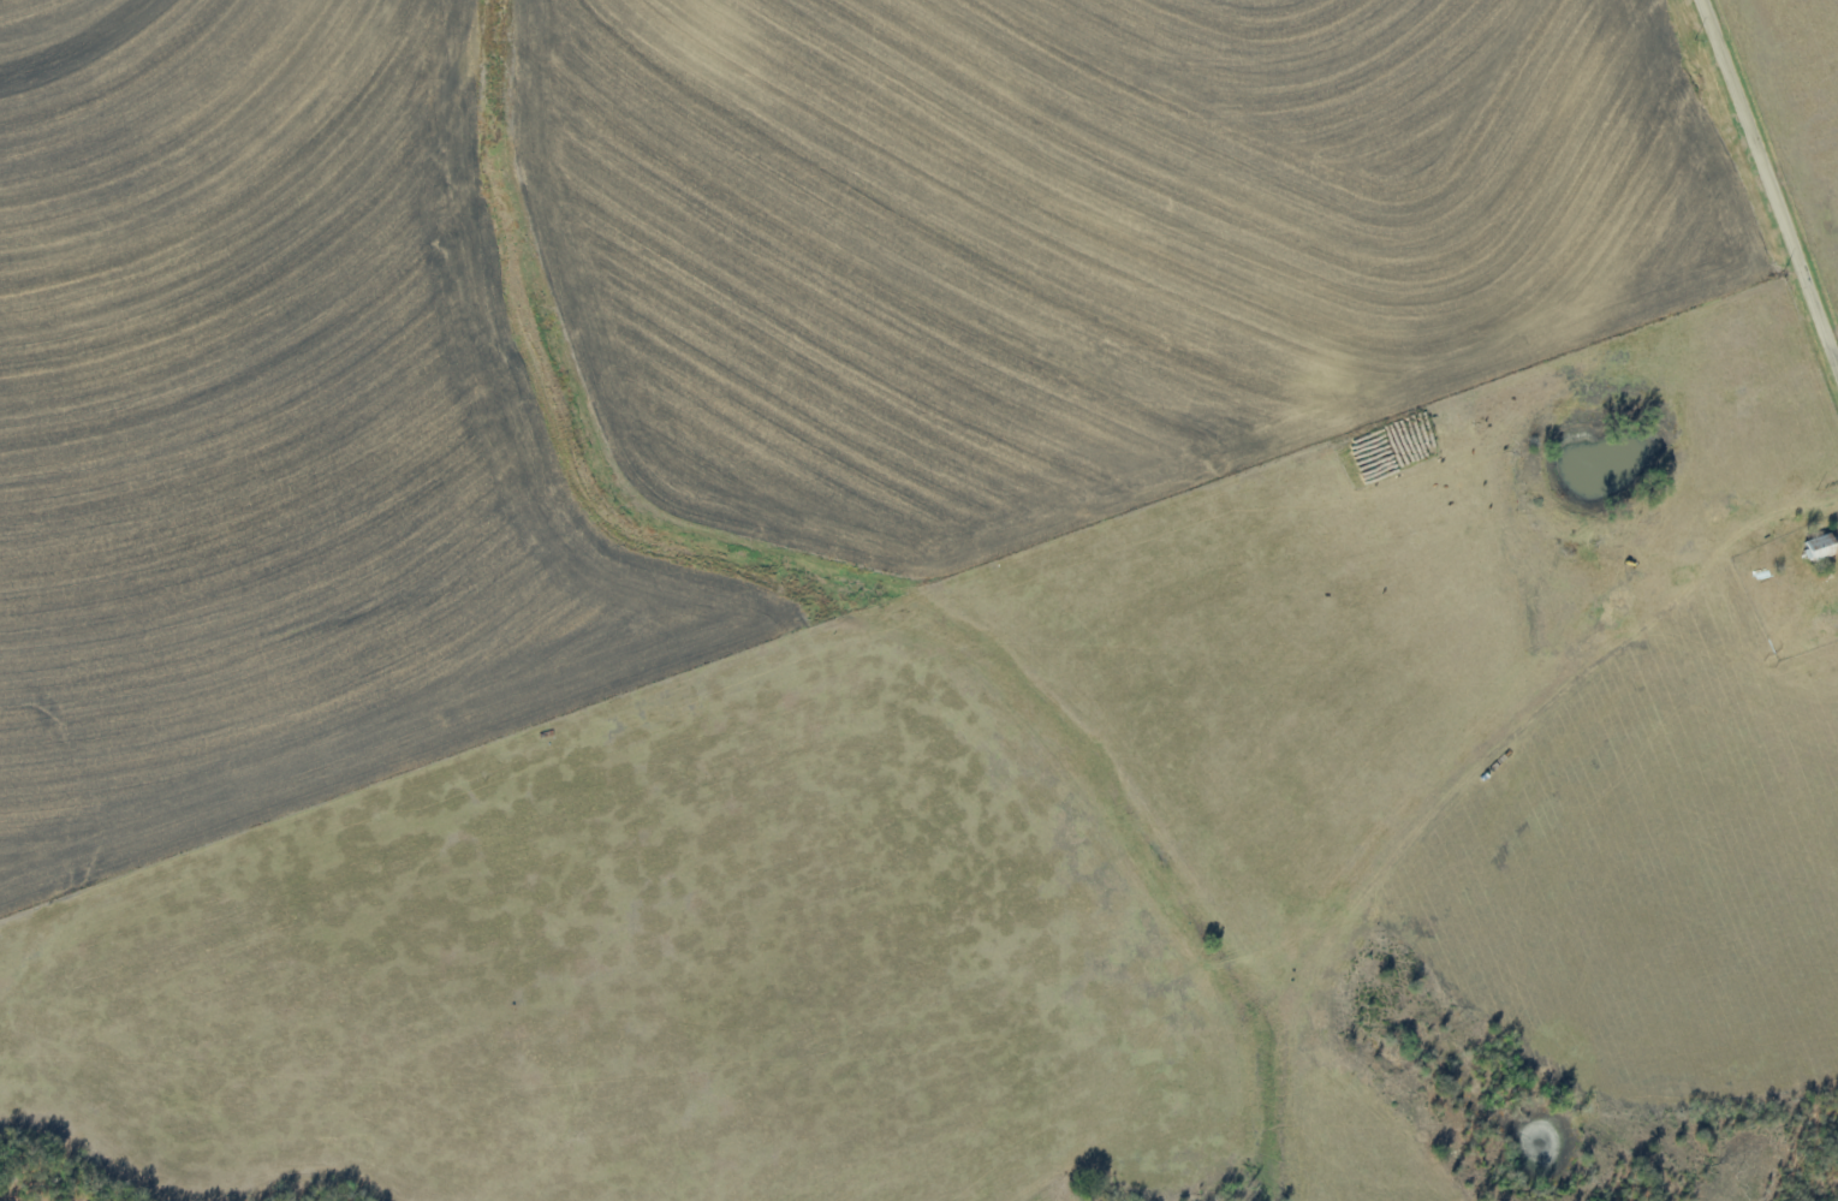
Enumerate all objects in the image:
road: (1769, 182)

